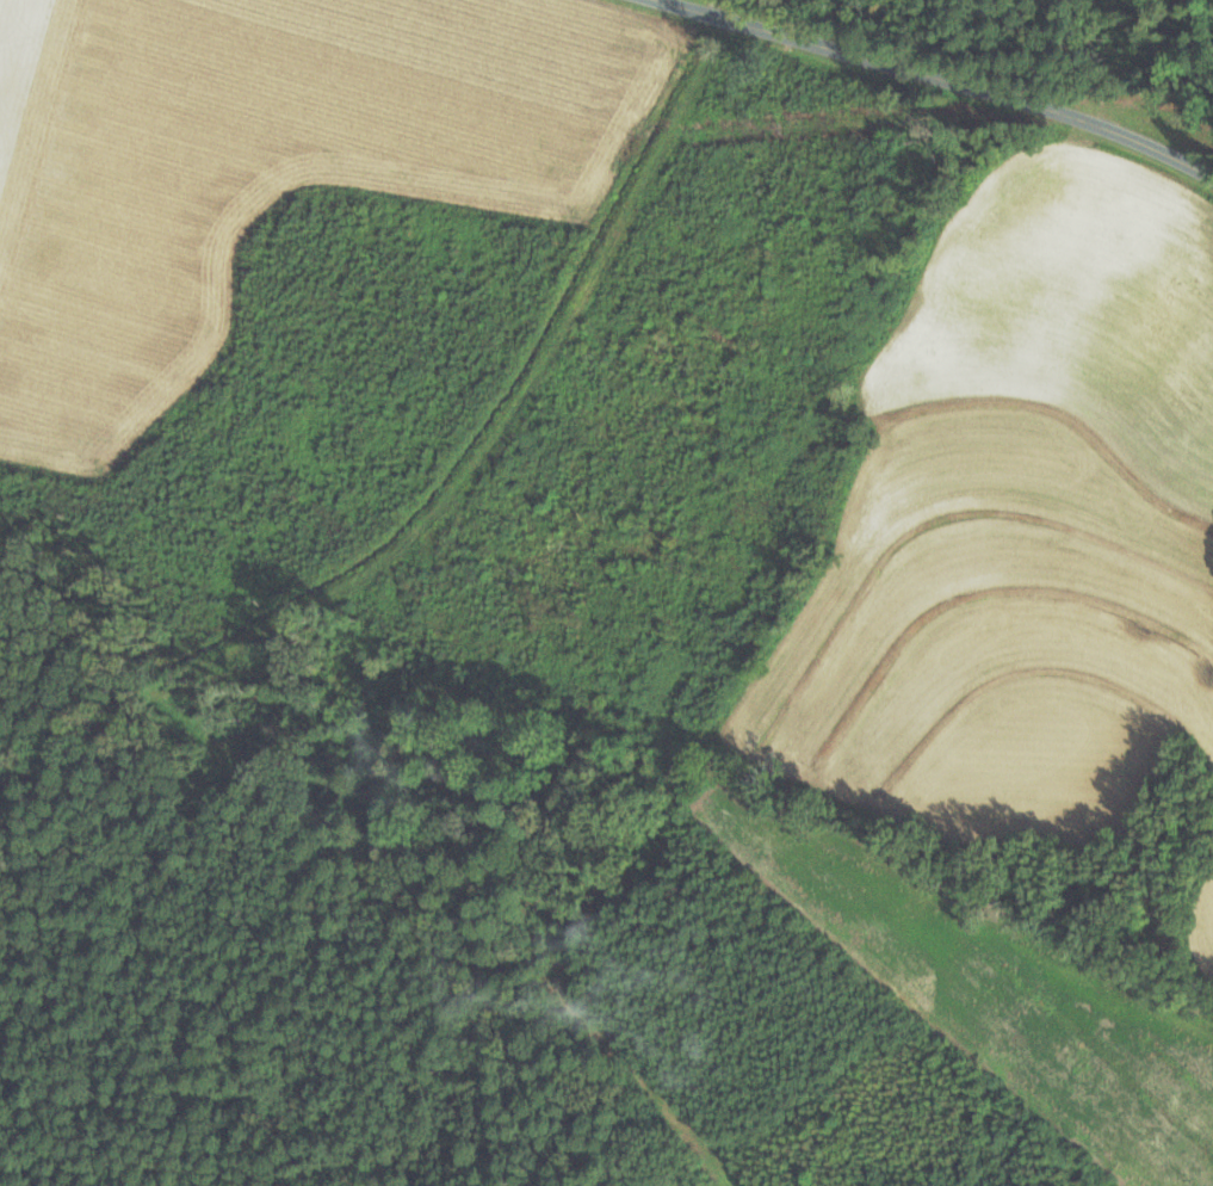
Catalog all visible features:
road: (706, 6)
road: (939, 78)

